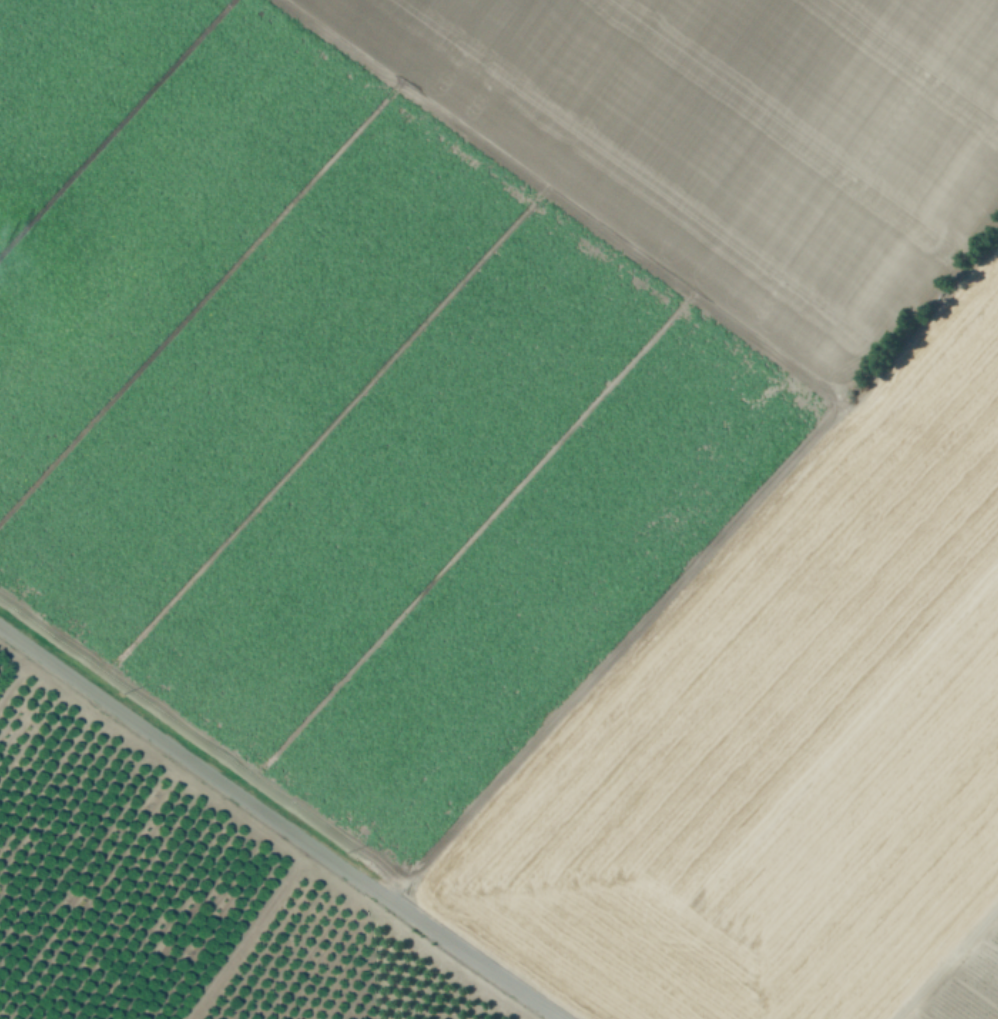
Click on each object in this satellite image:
crop: (539, 459)
road: (276, 823)
road: (945, 960)

